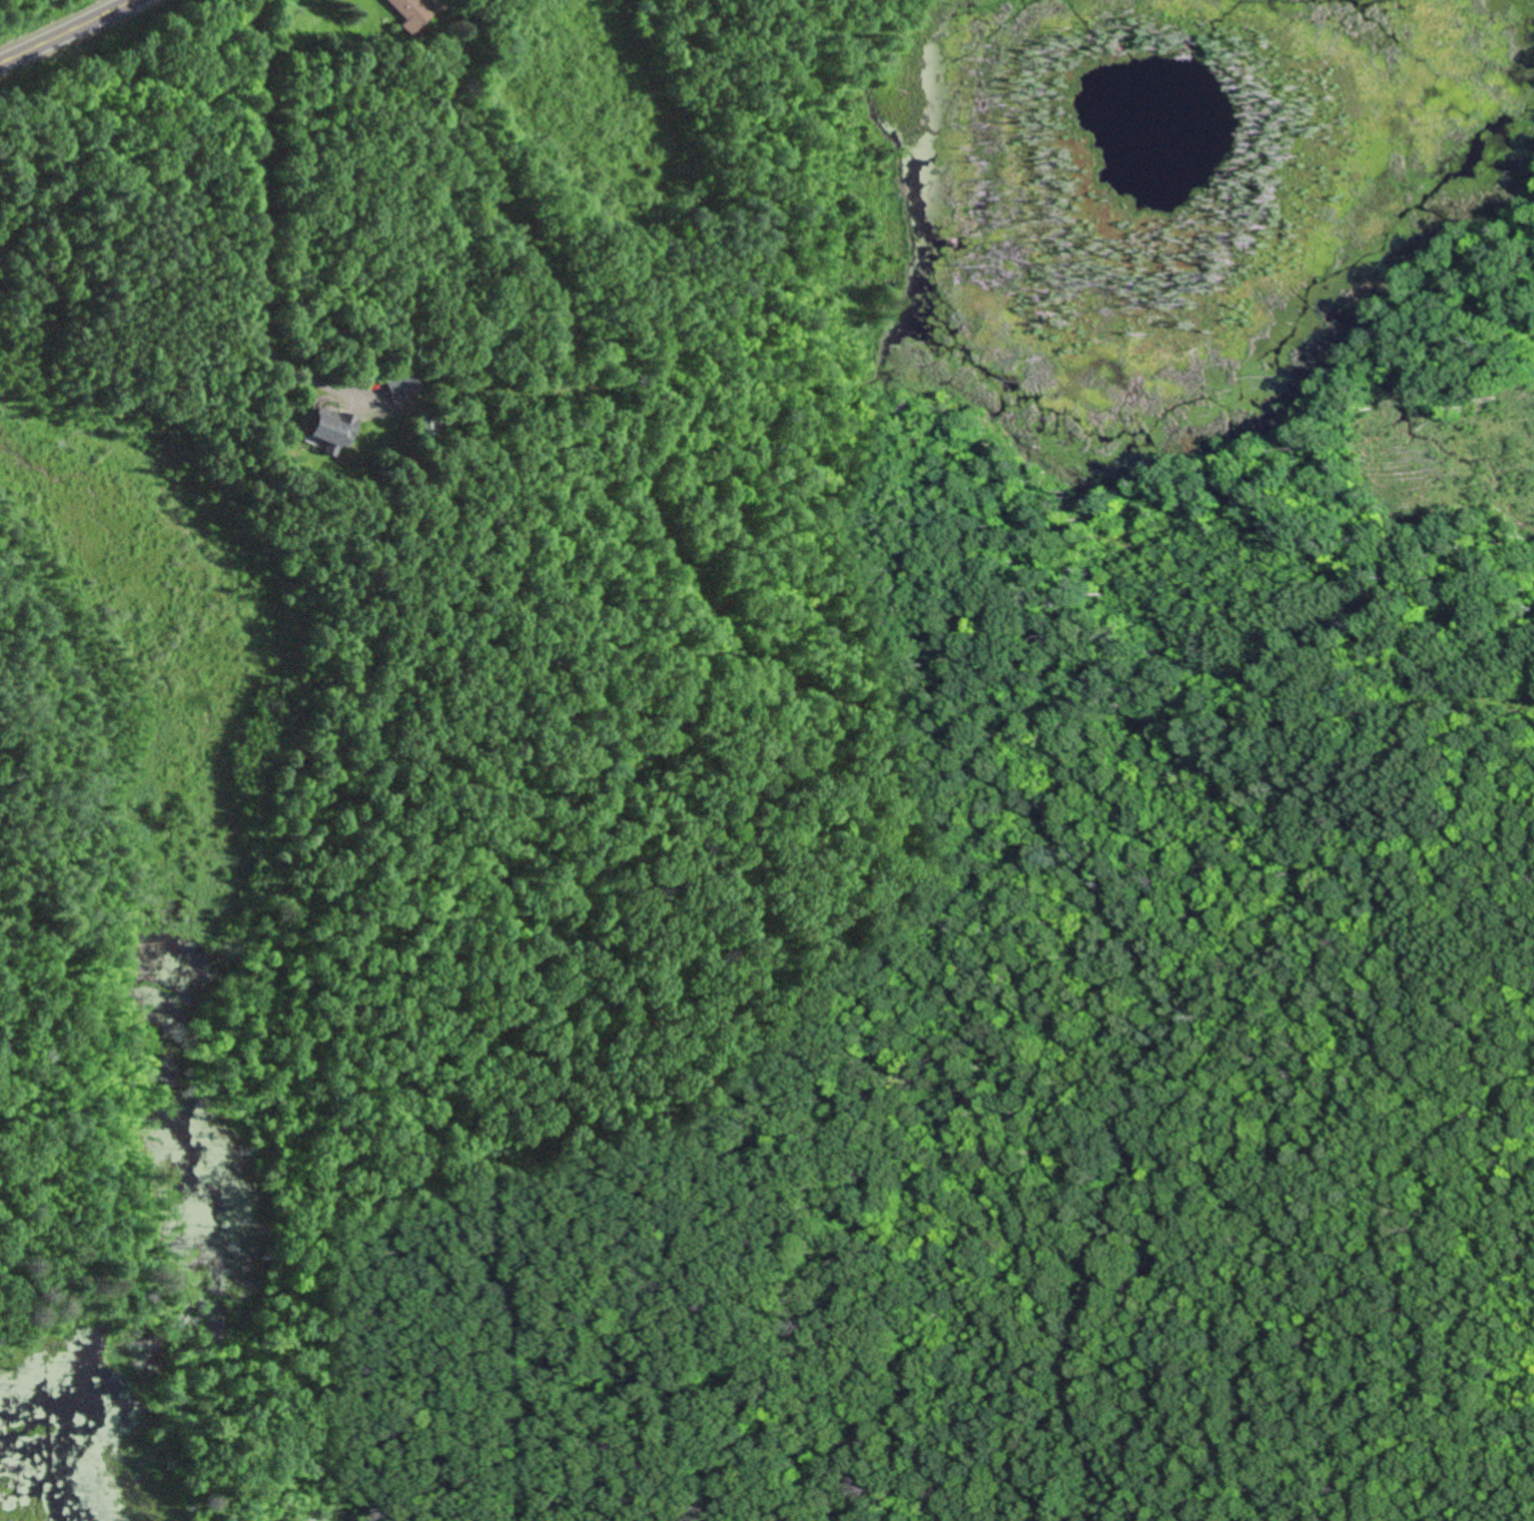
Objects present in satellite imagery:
building: (410, 11)
road: (64, 30)
building: (402, 385)
building: (326, 428)

